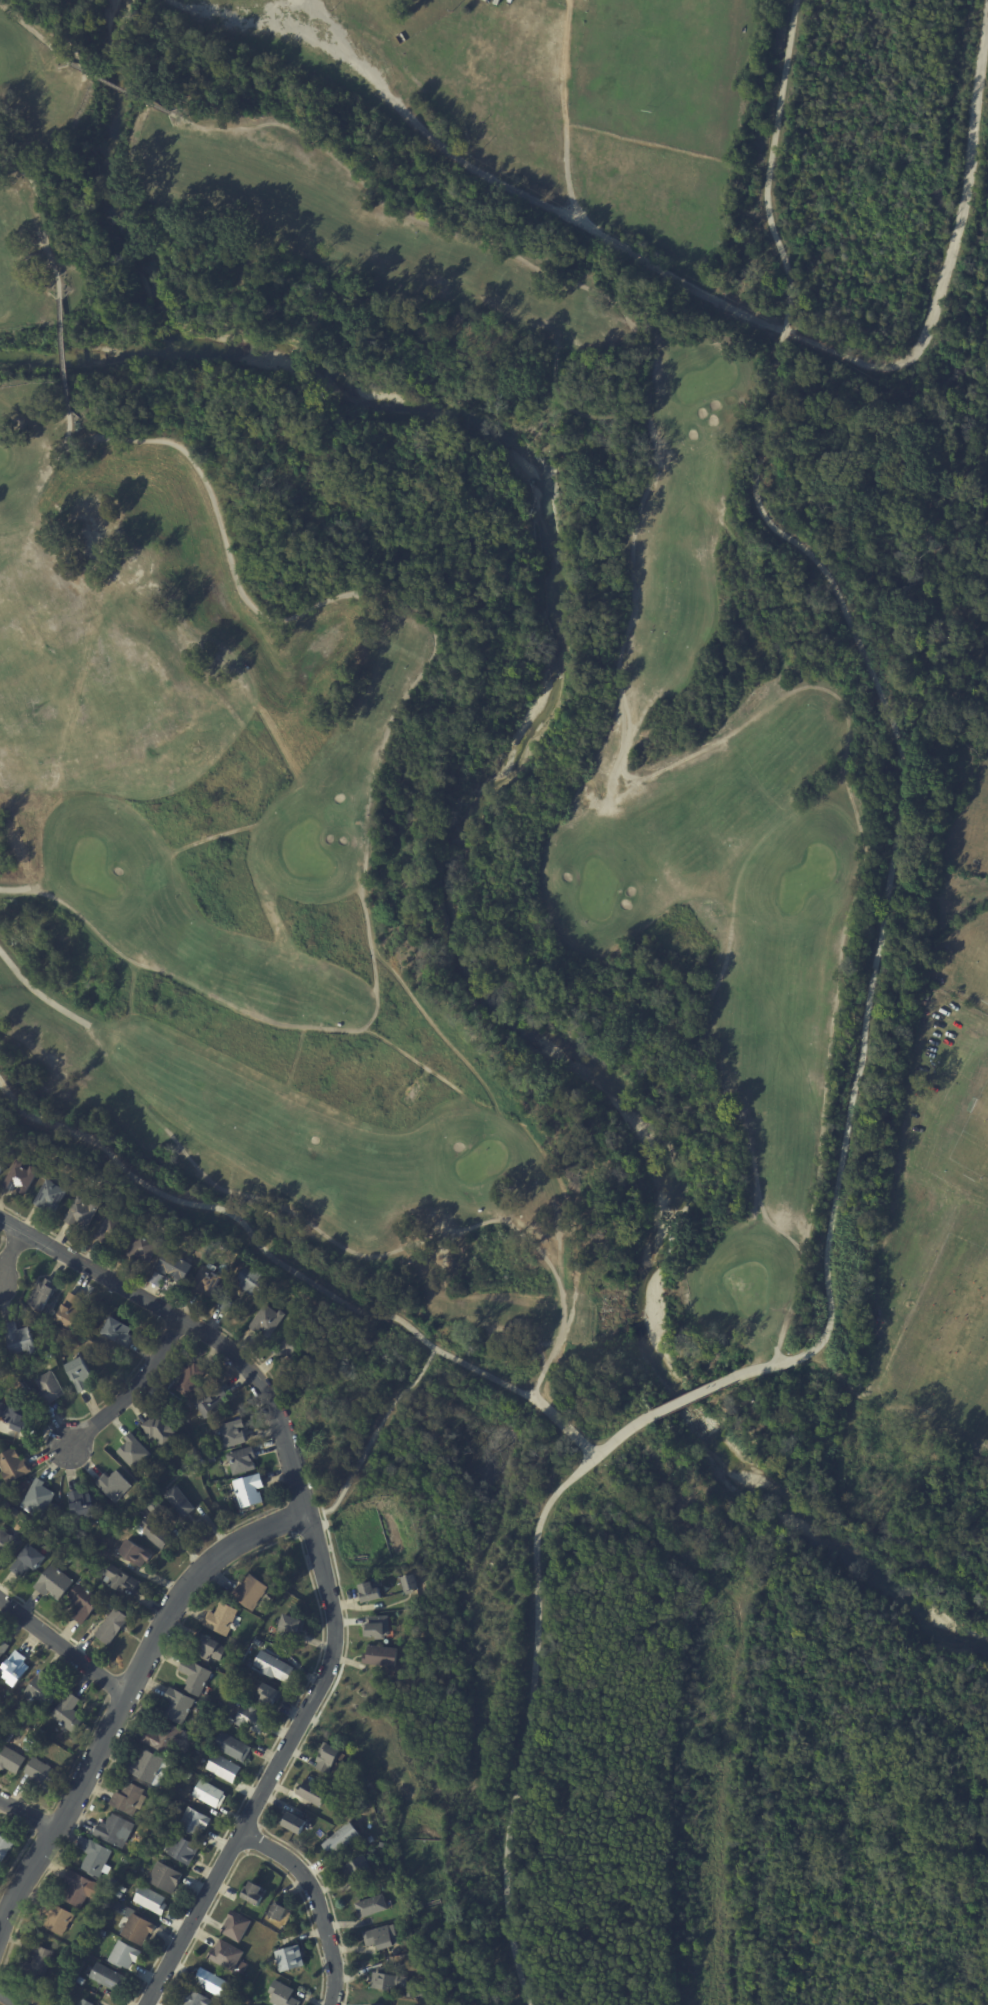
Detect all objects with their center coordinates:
road: (35, 31)
park: (656, 60)
park: (525, 79)
road: (121, 88)
road: (454, 151)
road: (44, 216)
road: (947, 275)
road: (65, 354)
road: (89, 416)
road: (769, 437)
road: (629, 540)
road: (750, 579)
road: (780, 652)
park: (406, 726)
road: (375, 772)
park: (970, 827)
road: (15, 890)
park: (962, 959)
road: (40, 994)
road: (864, 1043)
park: (973, 1133)
building: (1, 1168)
building: (20, 1178)
building: (50, 1196)
building: (82, 1212)
building: (114, 1230)
building: (214, 1244)
road: (424, 1244)
building: (144, 1248)
road: (10, 1251)
building: (174, 1267)
building: (232, 1267)
road: (296, 1280)
building: (205, 1281)
building: (252, 1282)
building: (41, 1295)
building: (225, 1303)
building: (69, 1311)
building: (267, 1321)
park: (949, 1327)
building: (118, 1332)
building: (18, 1339)
road: (819, 1341)
building: (292, 1348)
building: (79, 1374)
building: (189, 1380)
road: (347, 1382)
road: (135, 1387)
building: (48, 1389)
building: (17, 1392)
road: (694, 1400)
building: (210, 1404)
building: (12, 1415)
building: (160, 1431)
building: (230, 1434)
building: (133, 1452)
building: (203, 1454)
building: (211, 1459)
building: (241, 1461)
building: (13, 1466)
building: (189, 1468)
building: (24, 1485)
building: (113, 1486)
building: (248, 1491)
building: (38, 1499)
building: (179, 1502)
building: (81, 1505)
building: (7, 1506)
building: (152, 1506)
building: (91, 1522)
building: (153, 1534)
building: (7, 1545)
building: (135, 1554)
road: (320, 1557)
building: (28, 1562)
building: (412, 1580)
building: (120, 1581)
building: (53, 1584)
building: (371, 1591)
building: (252, 1592)
building: (83, 1604)
building: (221, 1618)
building: (291, 1625)
building: (378, 1626)
building: (112, 1628)
road: (63, 1646)
building: (211, 1647)
building: (3, 1648)
building: (382, 1656)
building: (247, 1660)
building: (273, 1665)
building: (15, 1671)
building: (240, 1671)
building: (195, 1675)
road: (526, 1686)
building: (42, 1692)
building: (270, 1694)
road: (126, 1696)
building: (233, 1698)
road: (729, 1704)
building: (178, 1705)
building: (234, 1712)
building: (68, 1714)
building: (251, 1718)
building: (230, 1721)
building: (0, 1738)
building: (165, 1738)
building: (33, 1746)
building: (232, 1746)
building: (198, 1747)
building: (327, 1756)
building: (10, 1759)
building: (175, 1764)
building: (146, 1765)
building: (224, 1767)
building: (42, 1775)
building: (189, 1775)
building: (313, 1792)
building: (210, 1794)
building: (129, 1798)
building: (347, 1802)
building: (168, 1803)
road: (29, 1814)
building: (194, 1821)
building: (293, 1822)
building: (114, 1830)
building: (321, 1835)
building: (341, 1839)
building: (371, 1839)
building: (4, 1849)
building: (183, 1849)
building: (375, 1850)
building: (94, 1856)
building: (123, 1866)
building: (357, 1866)
building: (165, 1876)
building: (79, 1888)
building: (396, 1891)
building: (254, 1893)
building: (119, 1895)
building: (151, 1900)
road: (318, 1901)
building: (371, 1906)
building: (97, 1910)
building: (278, 1912)
building: (57, 1918)
building: (236, 1925)
building: (137, 1928)
building: (101, 1932)
building: (380, 1937)
building: (411, 1946)
building: (124, 1955)
building: (226, 1955)
building: (289, 1957)
building: (38, 1963)
building: (108, 1977)
building: (80, 1980)
building: (384, 1981)
building: (213, 1983)
building: (76, 1988)
building: (403, 1991)
building: (411, 1991)
building: (282, 1994)
road: (12, 1997)
building: (195, 1998)
building: (85, 2002)
building: (377, 2003)
building: (235, 2004)

